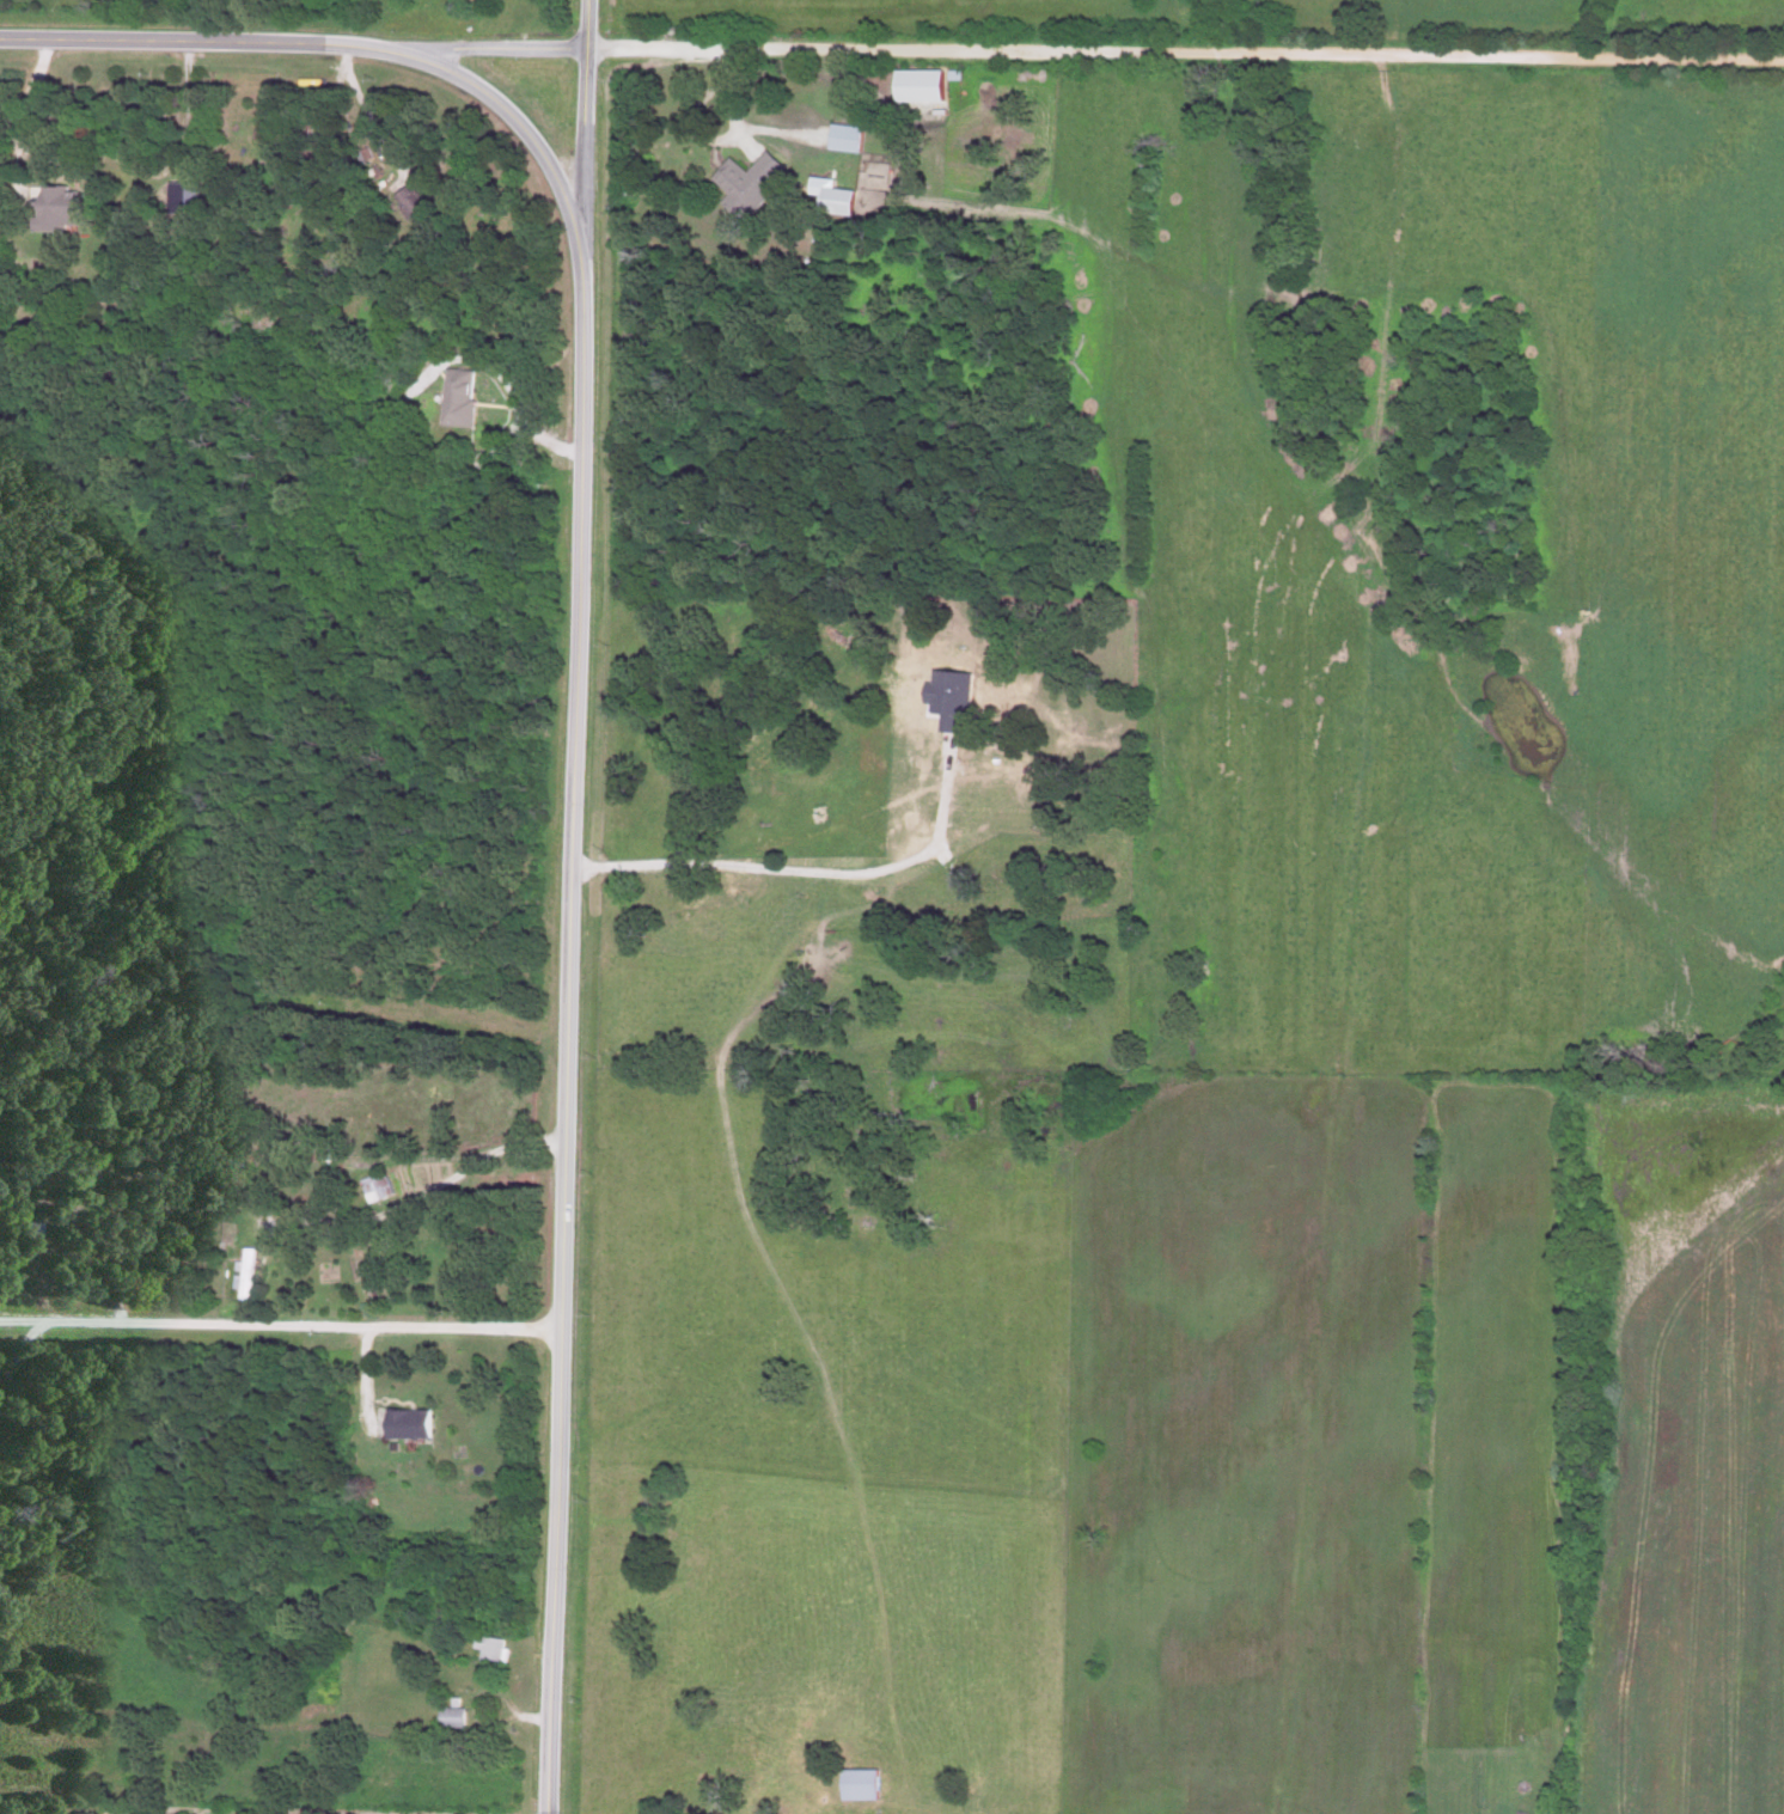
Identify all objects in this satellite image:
road: (1105, 56)
road: (586, 94)
road: (367, 120)
road: (738, 128)
building: (841, 140)
road: (132, 166)
building: (747, 181)
building: (831, 201)
building: (405, 203)
building: (51, 207)
building: (452, 398)
road: (569, 690)
building: (813, 817)
road: (804, 879)
building: (375, 1189)
road: (421, 1196)
building: (17, 1230)
road: (279, 1329)
road: (17, 1346)
building: (404, 1424)
building: (487, 1650)
building: (448, 1718)
building: (856, 1785)
road: (220, 1812)

